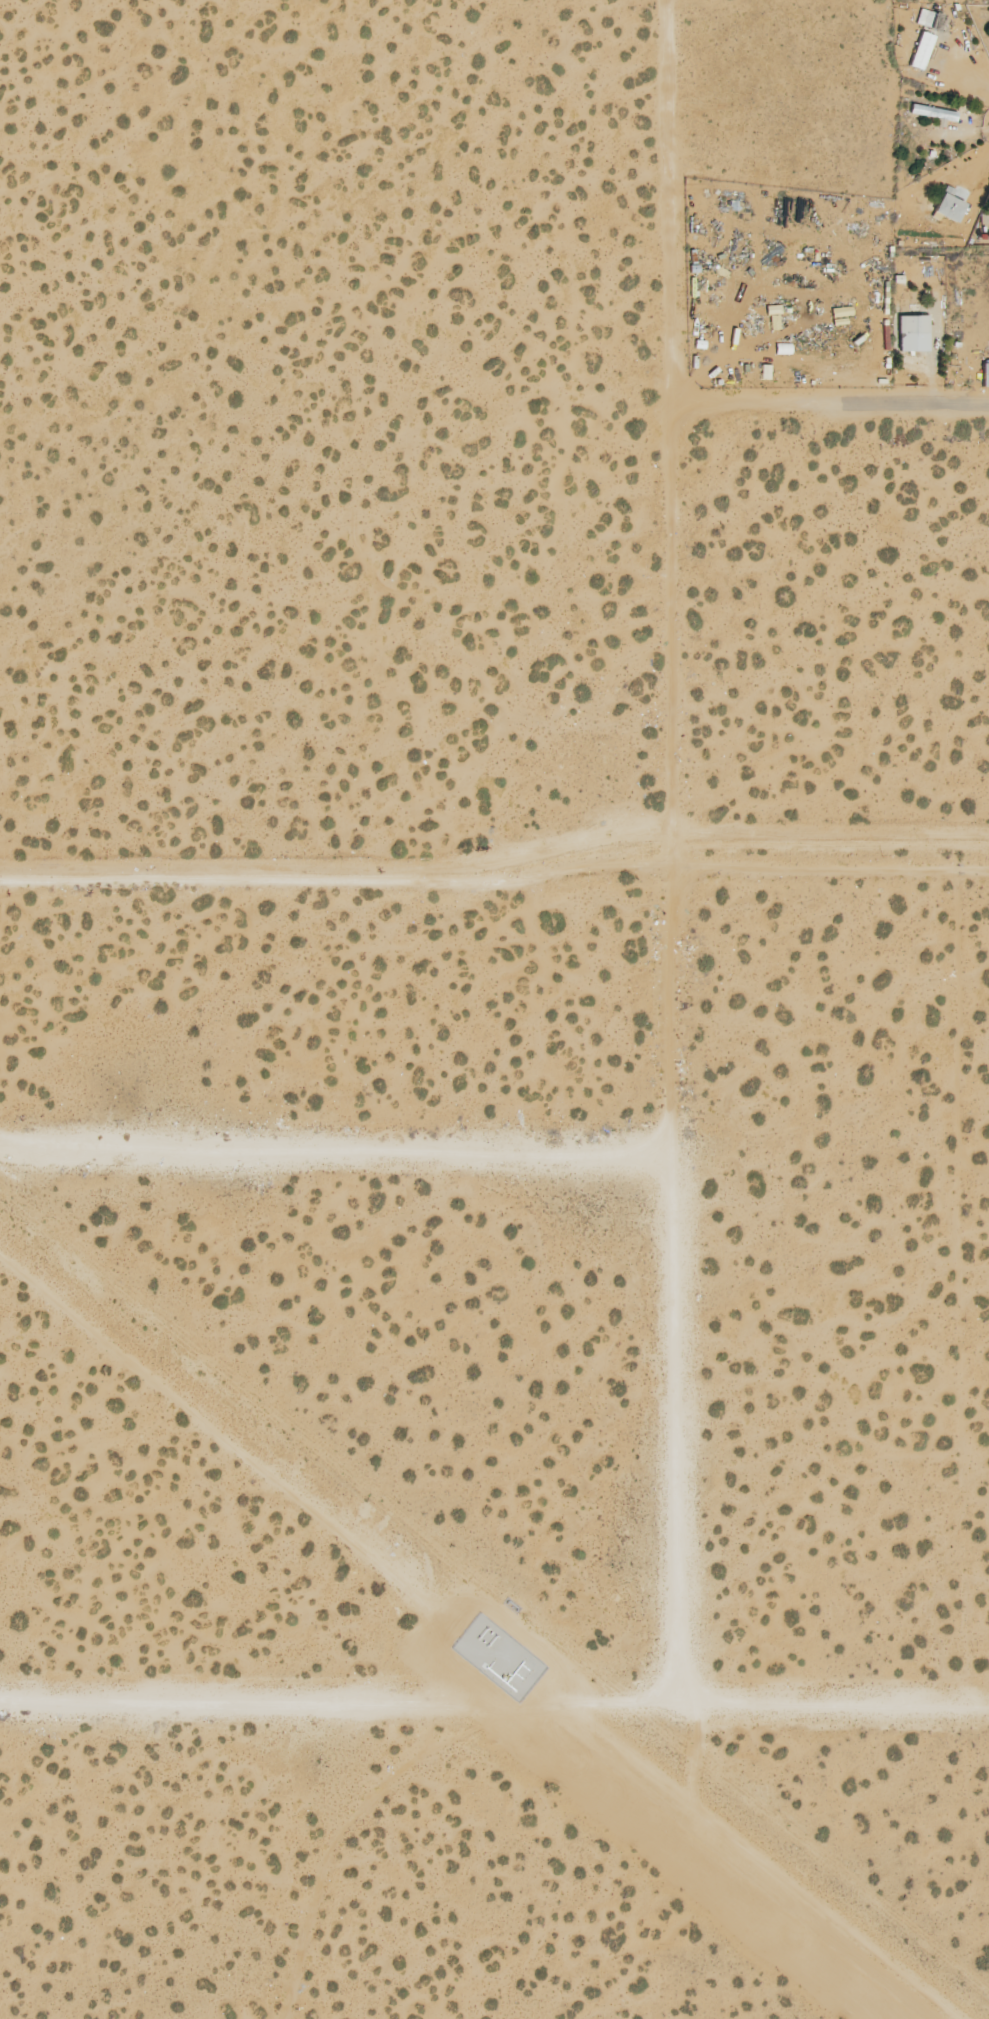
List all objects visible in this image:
building: (924, 18)
building: (920, 51)
building: (924, 112)
building: (947, 208)
building: (911, 334)
road: (829, 405)
road: (670, 433)
road: (495, 883)
road: (478, 1703)

